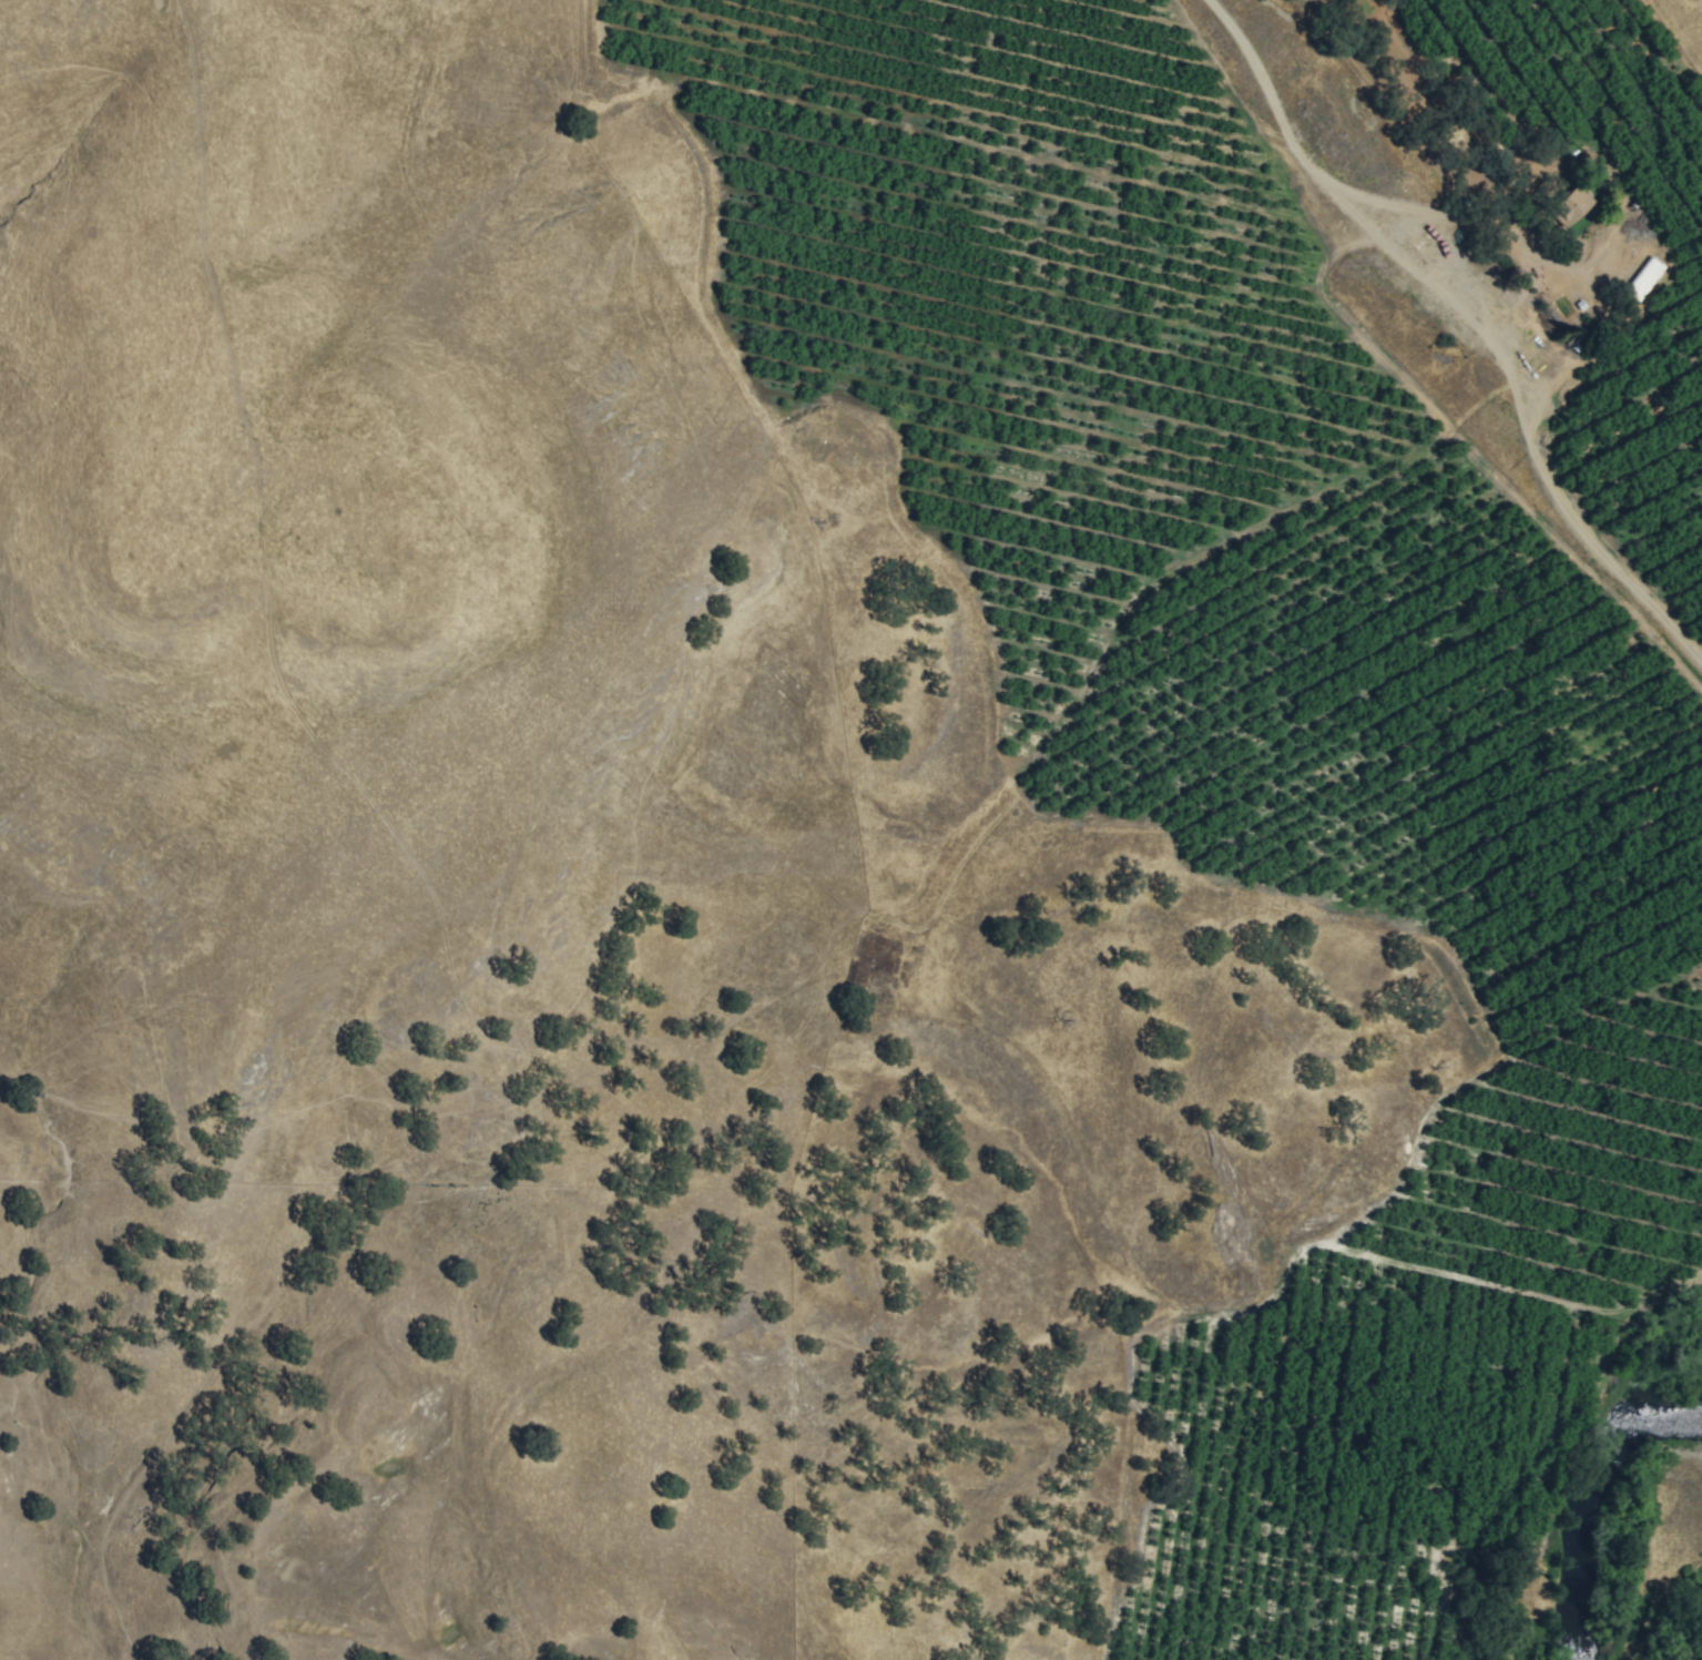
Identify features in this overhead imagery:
road: (1343, 189)
building: (1573, 206)
building: (1506, 207)
building: (1648, 279)
crop: (1324, 683)
river: (1584, 1505)
building: (1588, 1605)

